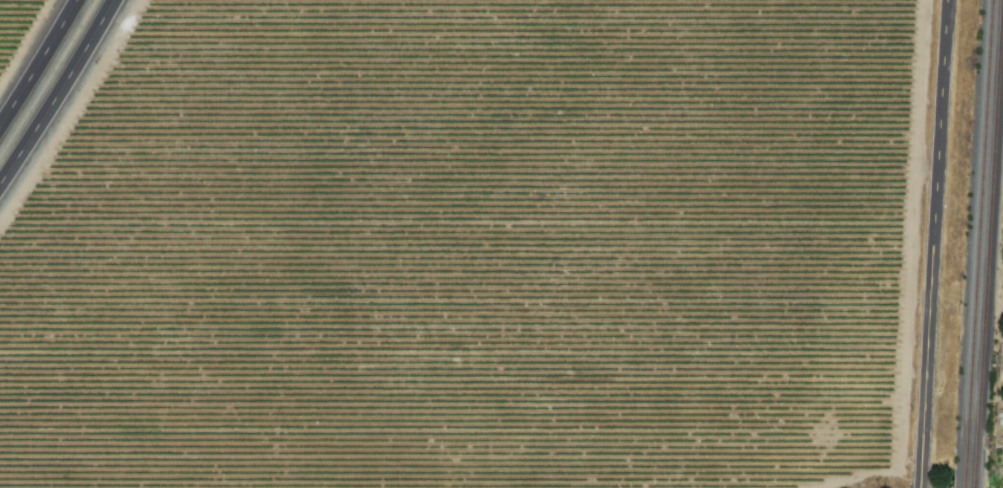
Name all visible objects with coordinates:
road: (40, 65)
road: (60, 94)
railway: (980, 235)
road: (935, 244)
railway: (991, 262)
park: (998, 439)
railway: (968, 478)
railway: (978, 479)
railway: (967, 487)
railway: (977, 487)

